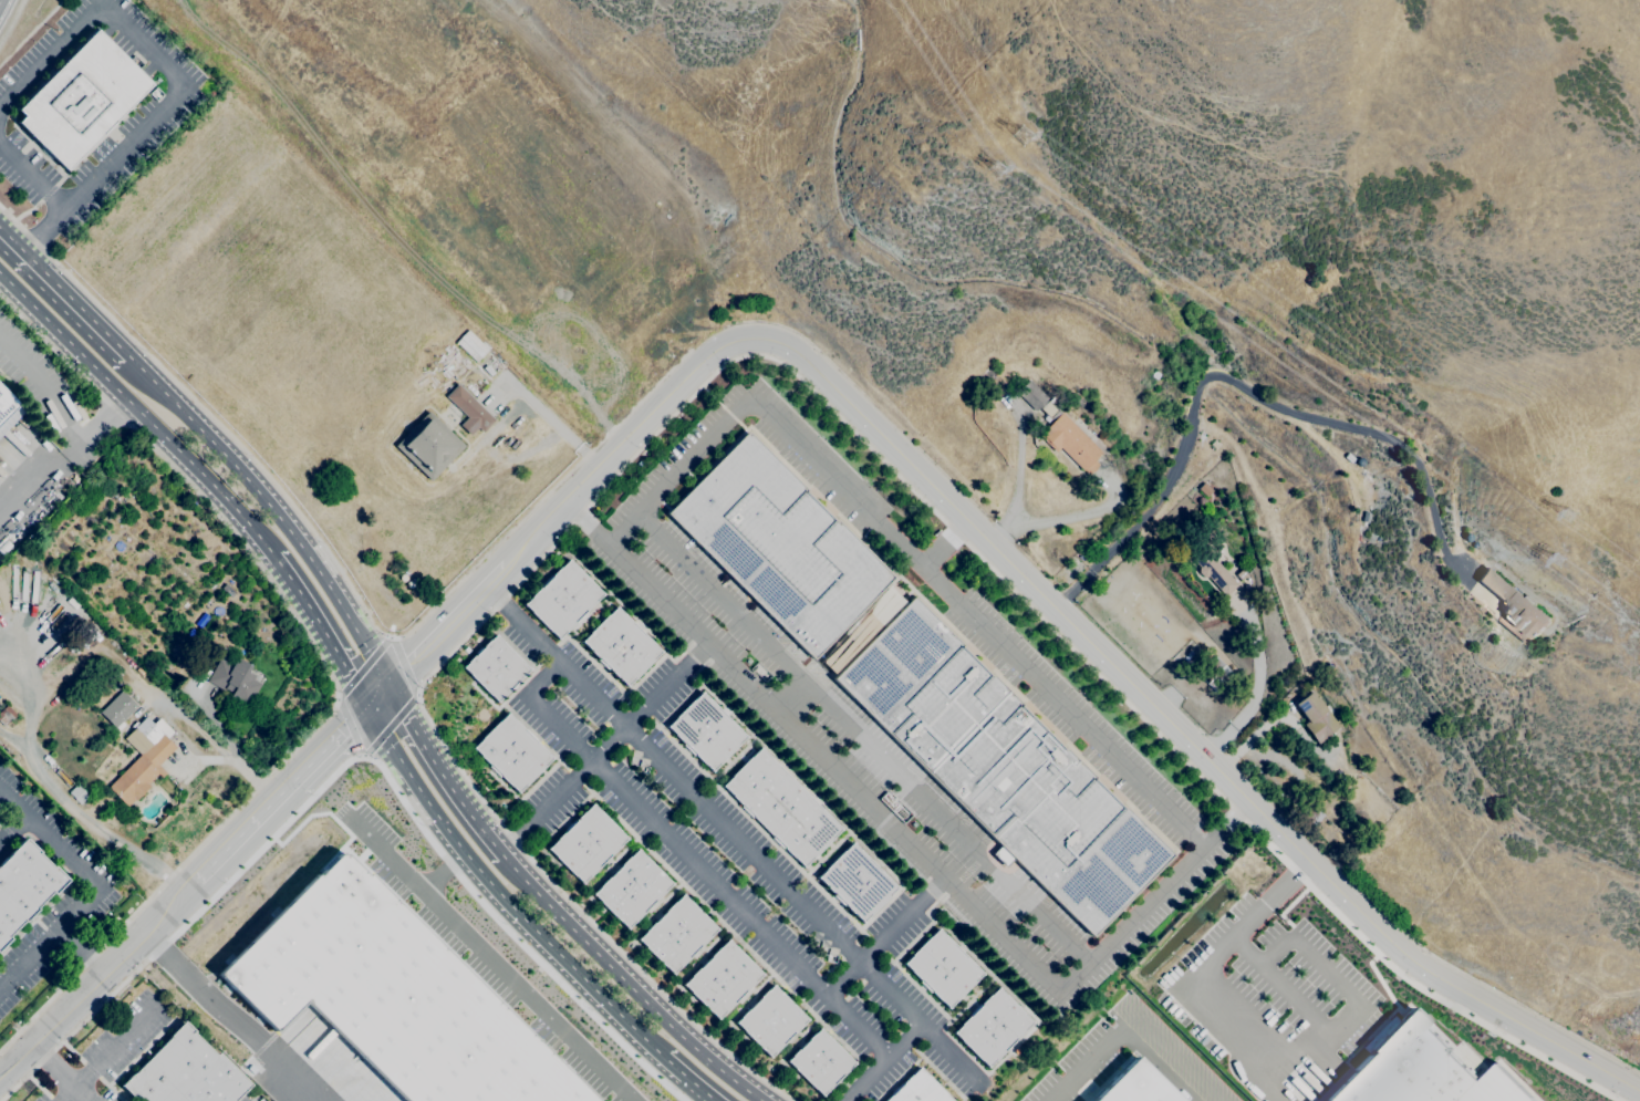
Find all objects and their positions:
road: (102, 1)
road: (11, 20)
road: (150, 50)
building: (81, 100)
power tower: (1024, 139)
power tower: (996, 169)
road: (33, 176)
road: (401, 218)
road: (45, 230)
road: (12, 237)
road: (64, 292)
building: (1189, 315)
building: (469, 345)
building: (1155, 375)
road: (803, 381)
road: (43, 388)
road: (1246, 391)
building: (1032, 395)
road: (866, 397)
building: (8, 411)
building: (469, 411)
building: (1048, 411)
road: (139, 412)
road: (548, 417)
building: (1070, 442)
building: (1215, 444)
building: (429, 446)
road: (63, 459)
building: (1205, 488)
road: (1015, 491)
road: (273, 509)
road: (1075, 512)
building: (116, 516)
power tower: (1569, 517)
building: (779, 544)
road: (947, 546)
road: (906, 552)
power tower: (1563, 559)
building: (1211, 563)
road: (340, 573)
building: (1242, 574)
storage tank: (403, 577)
storage tank: (409, 584)
building: (228, 590)
building: (222, 592)
building: (562, 600)
building: (882, 605)
building: (1515, 605)
road: (1059, 612)
road: (447, 625)
road: (322, 630)
building: (188, 634)
building: (621, 646)
road: (405, 665)
building: (1329, 665)
building: (496, 668)
building: (1211, 669)
road: (331, 677)
building: (233, 679)
road: (1255, 686)
road: (377, 696)
road: (792, 697)
road: (30, 699)
building: (117, 709)
building: (6, 715)
building: (1316, 716)
road: (216, 723)
road: (193, 727)
building: (706, 730)
road: (1254, 731)
road: (866, 739)
road: (12, 742)
road: (330, 744)
road: (605, 750)
building: (511, 752)
parking lot: (848, 757)
building: (143, 759)
road: (232, 760)
road: (350, 760)
building: (1001, 766)
road: (442, 772)
road: (675, 775)
building: (81, 797)
building: (145, 801)
building: (782, 807)
building: (1310, 814)
road: (97, 827)
road: (245, 830)
road: (13, 831)
road: (49, 839)
road: (909, 842)
building: (587, 843)
road: (691, 861)
parking lot: (728, 862)
road: (444, 871)
building: (855, 882)
building: (23, 885)
building: (631, 889)
road: (500, 893)
road: (905, 923)
building: (676, 933)
road: (50, 938)
road: (82, 949)
road: (1245, 949)
road: (491, 959)
building: (942, 968)
road: (1325, 970)
road: (1205, 976)
road: (97, 977)
building: (722, 979)
road: (845, 981)
road: (629, 983)
road: (892, 994)
building: (392, 996)
road: (1289, 996)
road: (230, 1016)
building: (770, 1020)
road: (1123, 1025)
building: (992, 1027)
road: (951, 1052)
road: (107, 1056)
road: (884, 1060)
building: (820, 1062)
building: (1419, 1071)
building: (185, 1072)
road: (59, 1073)
road: (686, 1079)
road: (1270, 1079)
building: (1134, 1086)
building: (918, 1090)

